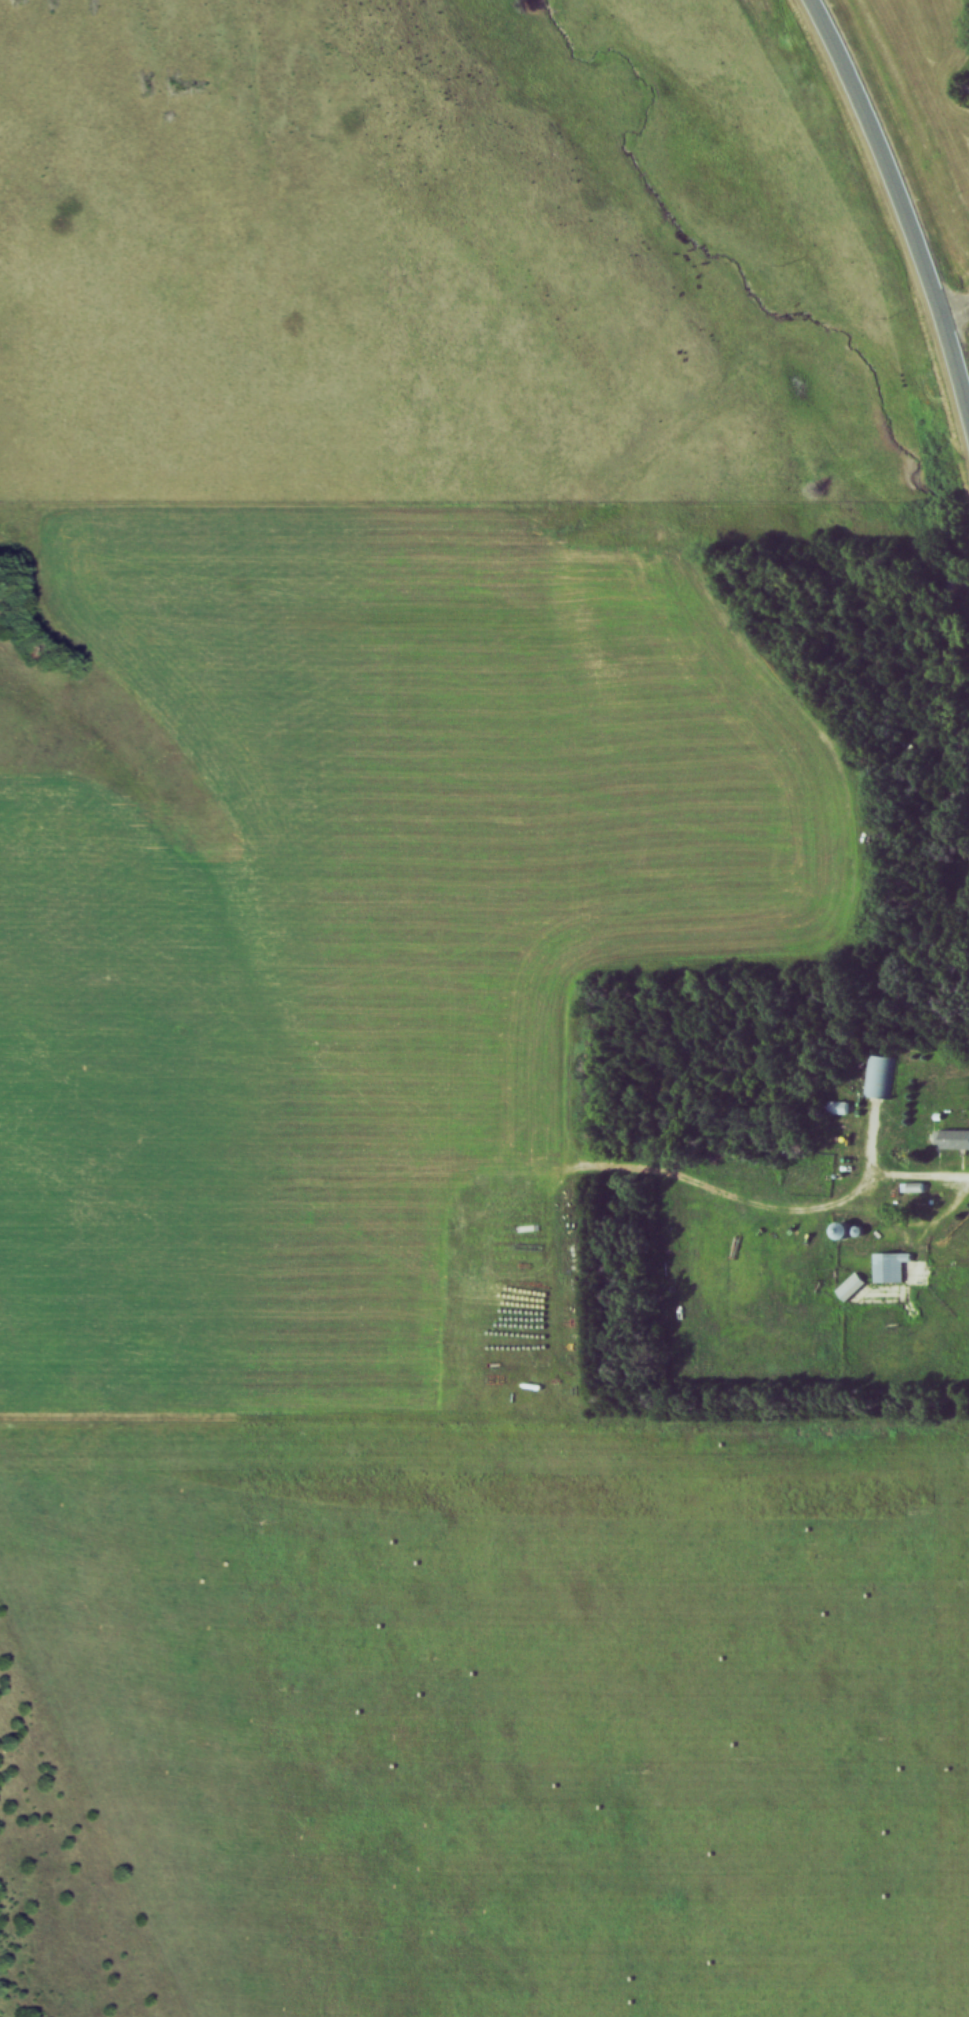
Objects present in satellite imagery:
road: (899, 197)
road: (957, 320)
building: (877, 1077)
building: (836, 1109)
building: (952, 1141)
road: (920, 1185)
building: (843, 1232)
building: (889, 1268)
building: (850, 1287)

